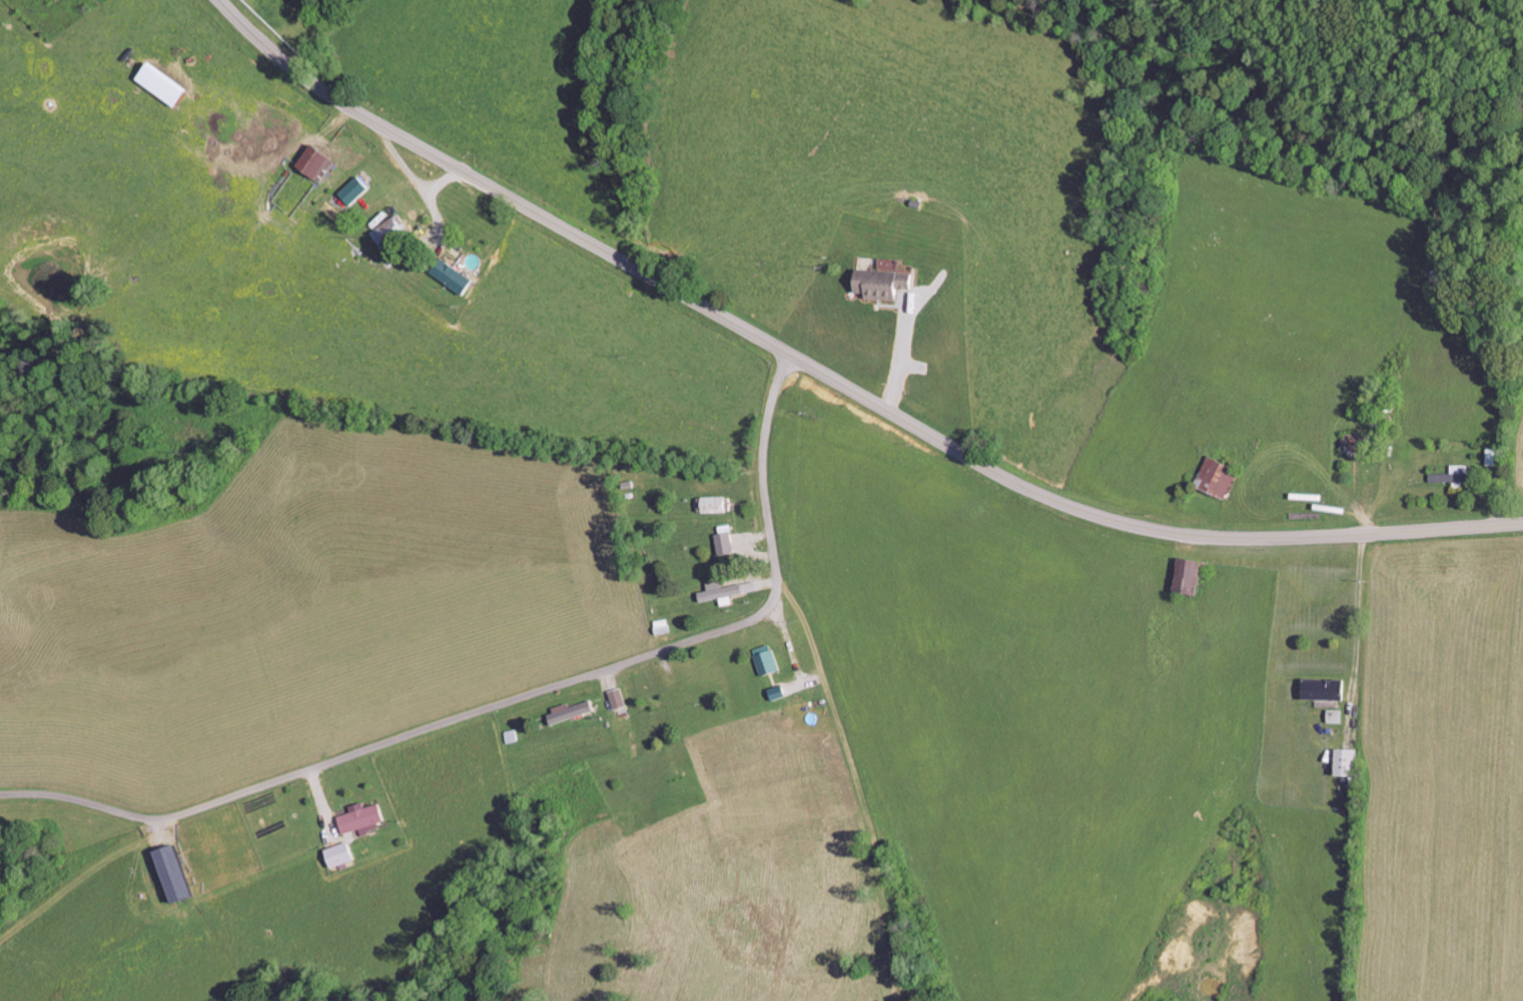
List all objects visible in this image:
building: (161, 85)
building: (316, 162)
building: (352, 190)
building: (387, 233)
building: (451, 276)
building: (881, 281)
road: (833, 380)
building: (1451, 475)
building: (1216, 476)
building: (715, 505)
building: (725, 543)
building: (1187, 576)
building: (720, 591)
building: (765, 663)
building: (1321, 688)
building: (615, 698)
road: (511, 701)
building: (567, 711)
road: (534, 717)
building: (1344, 761)
building: (360, 817)
building: (337, 853)
building: (171, 872)

